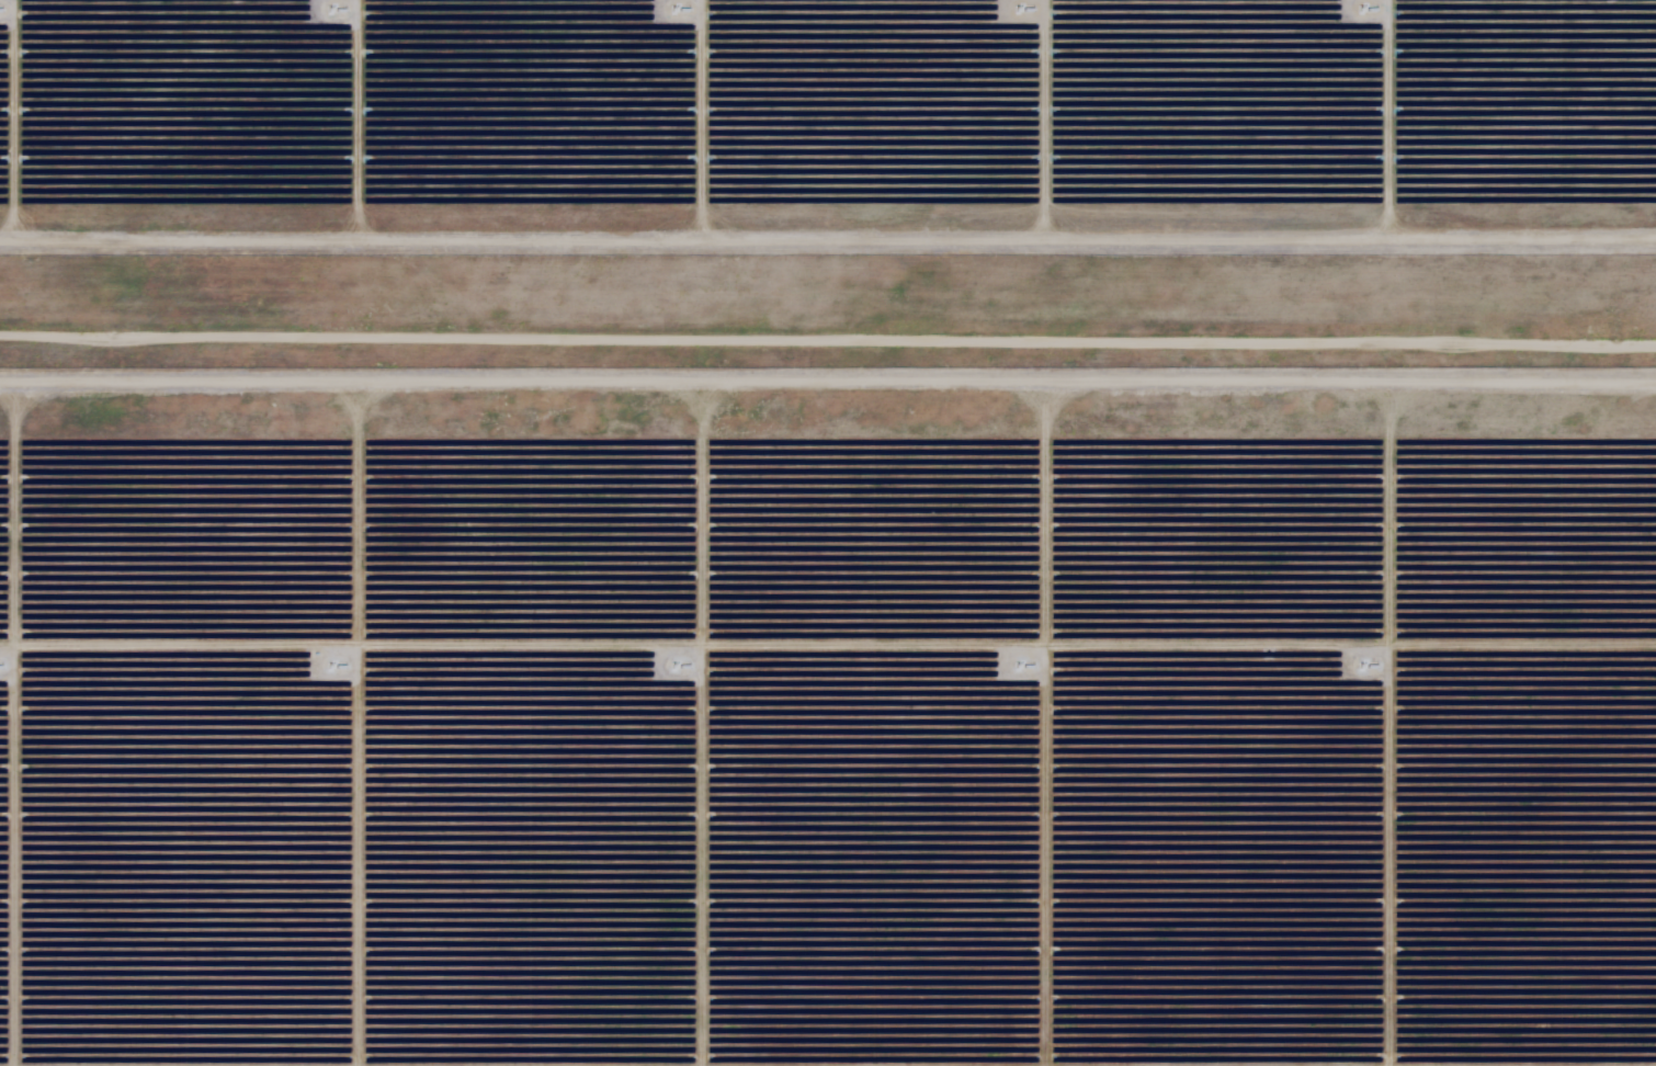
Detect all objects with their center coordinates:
road: (828, 341)
solar farm: (828, 533)

